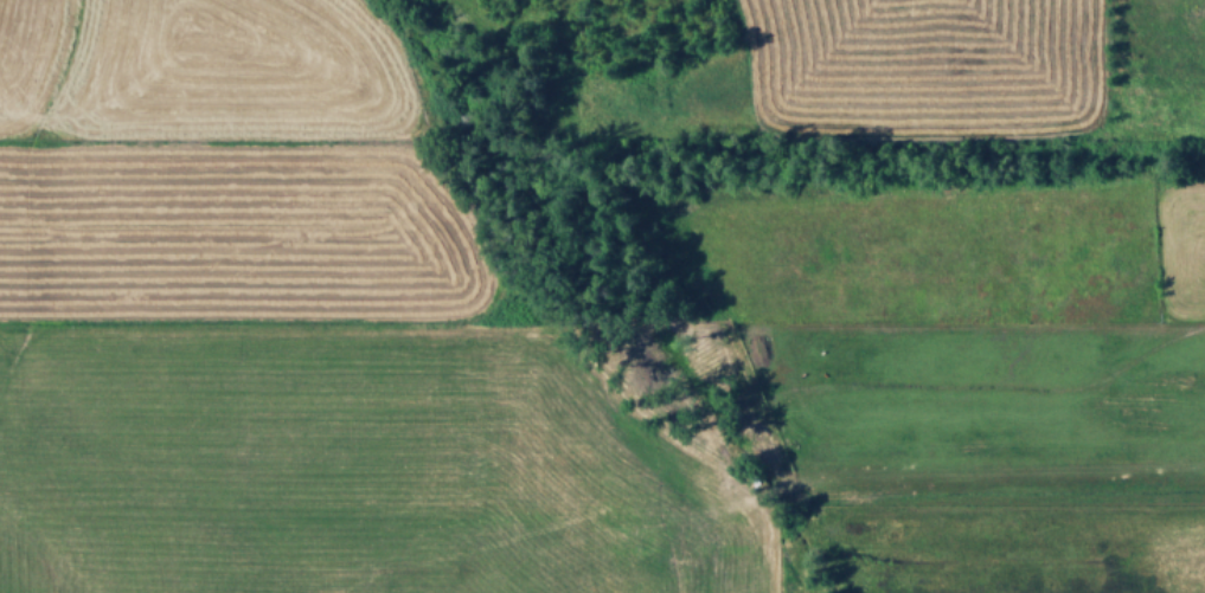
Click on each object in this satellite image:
crop: (312, 343)

